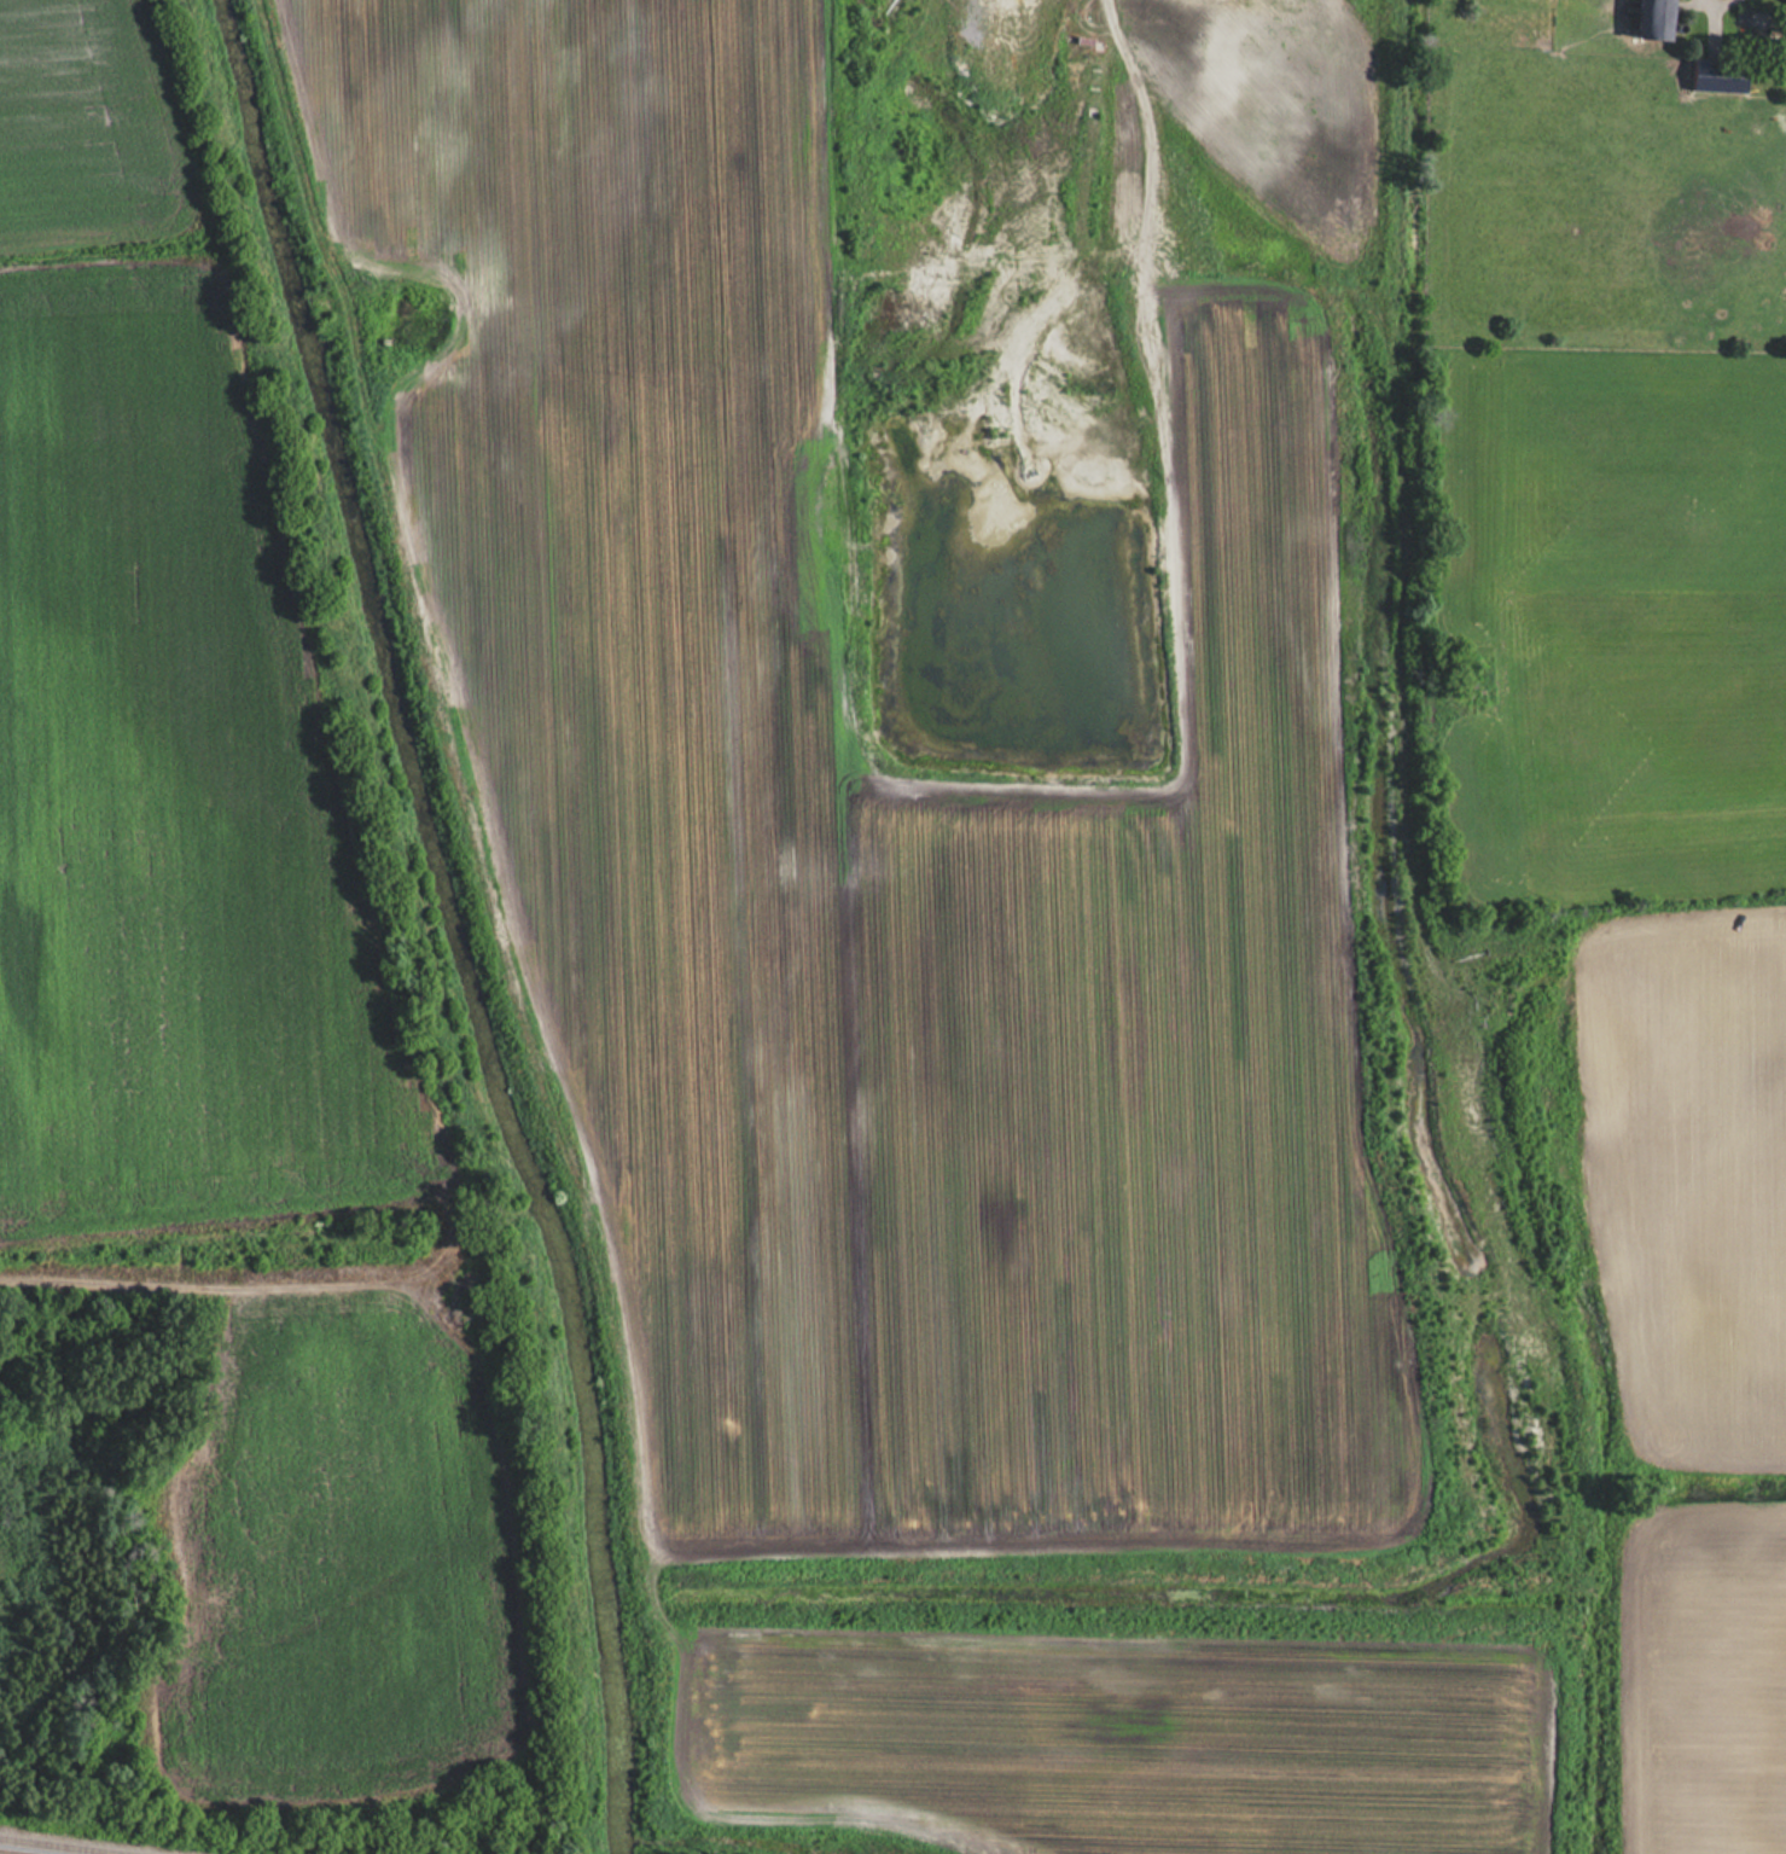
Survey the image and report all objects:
building: (1658, 19)
building: (1718, 74)
railway: (69, 1844)
railway: (22, 1850)

